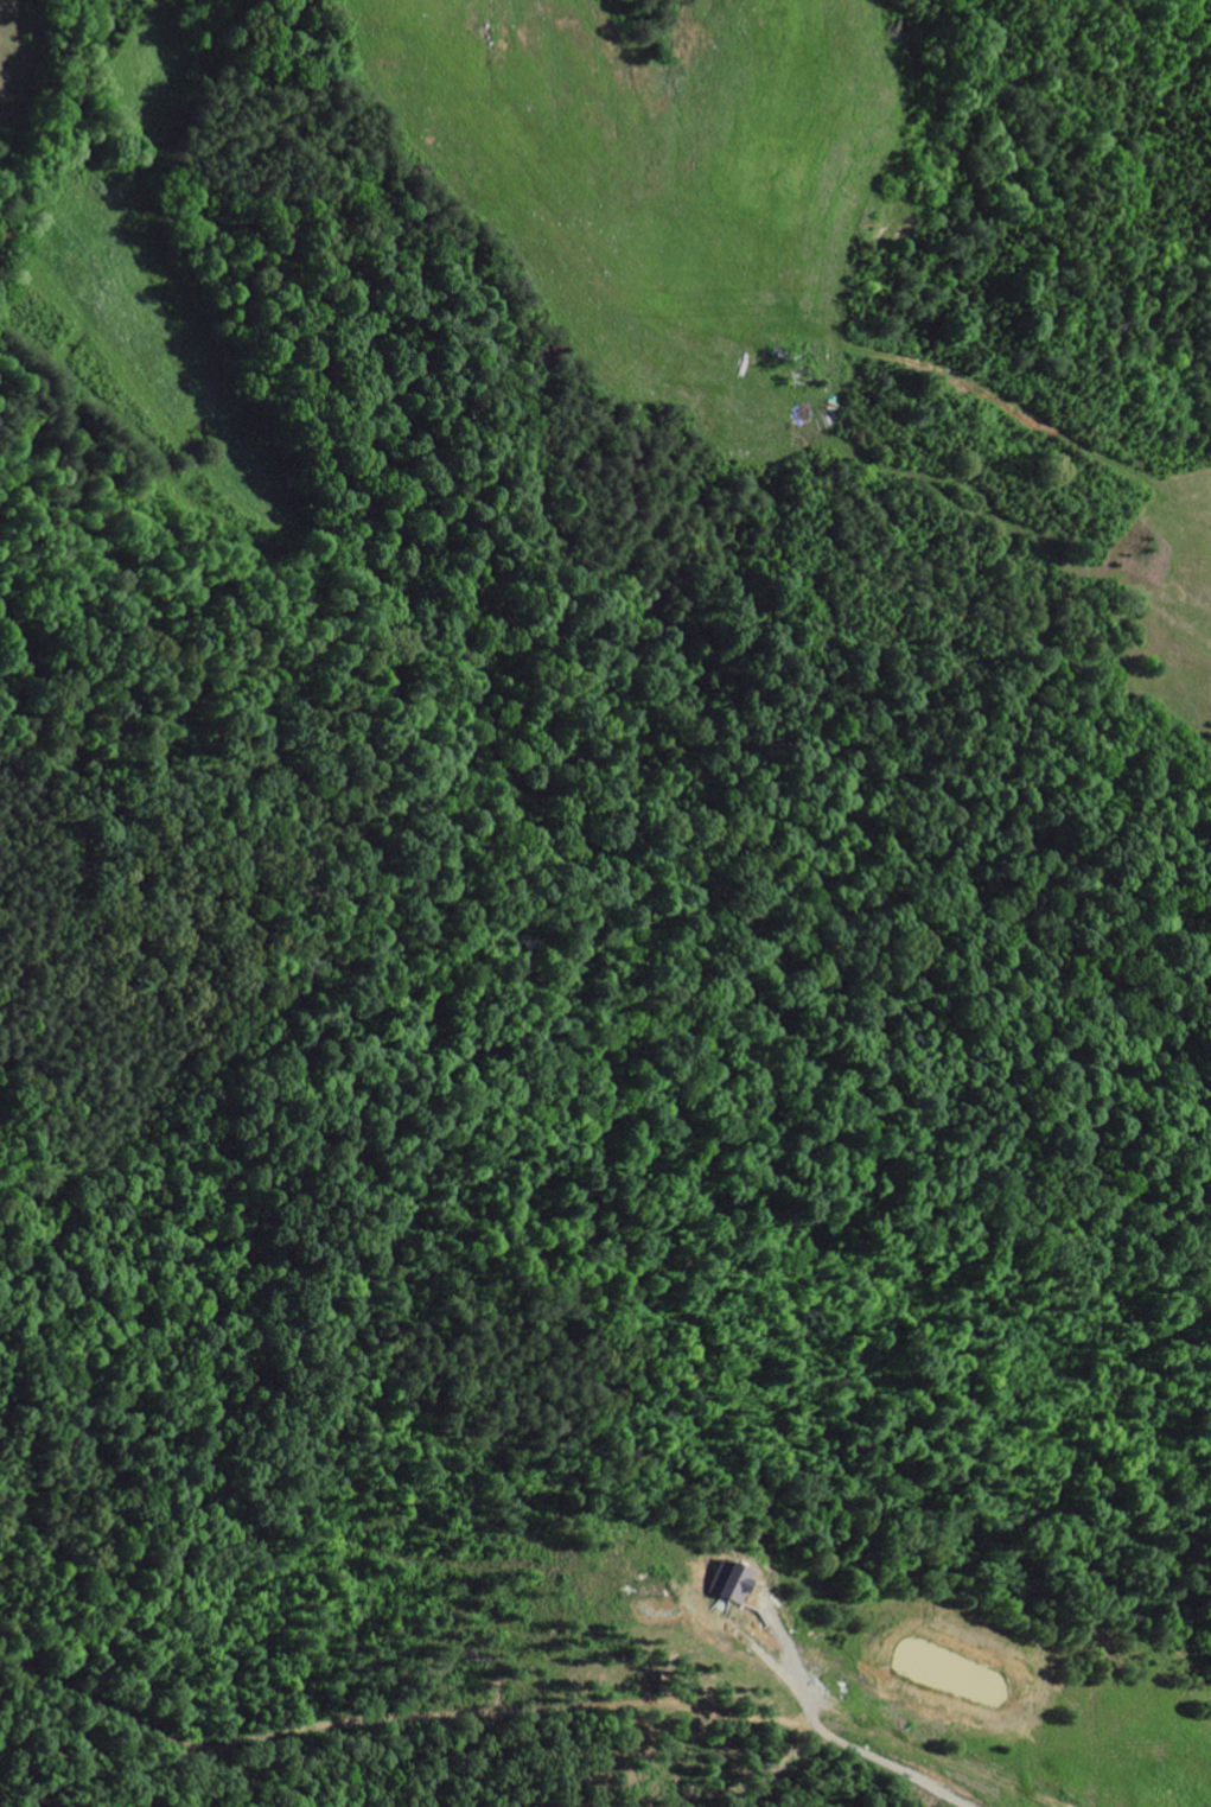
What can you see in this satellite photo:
building: (735, 1583)

